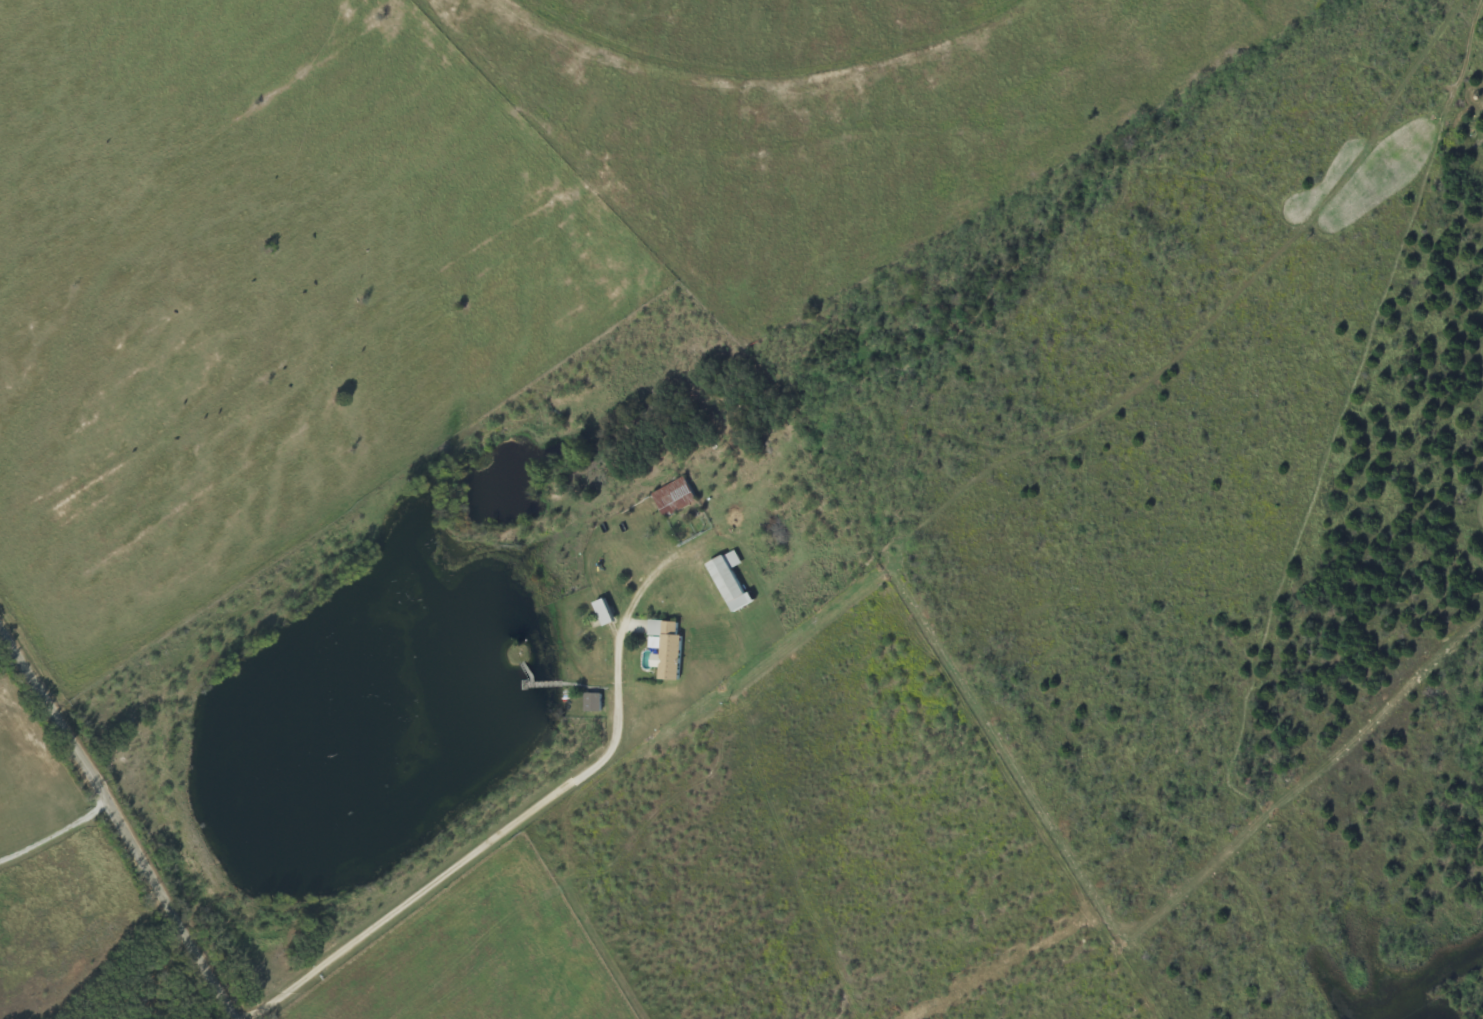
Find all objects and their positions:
building: (672, 499)
building: (727, 582)
building: (603, 612)
building: (664, 650)
building: (591, 703)
road: (520, 823)
road: (117, 824)

